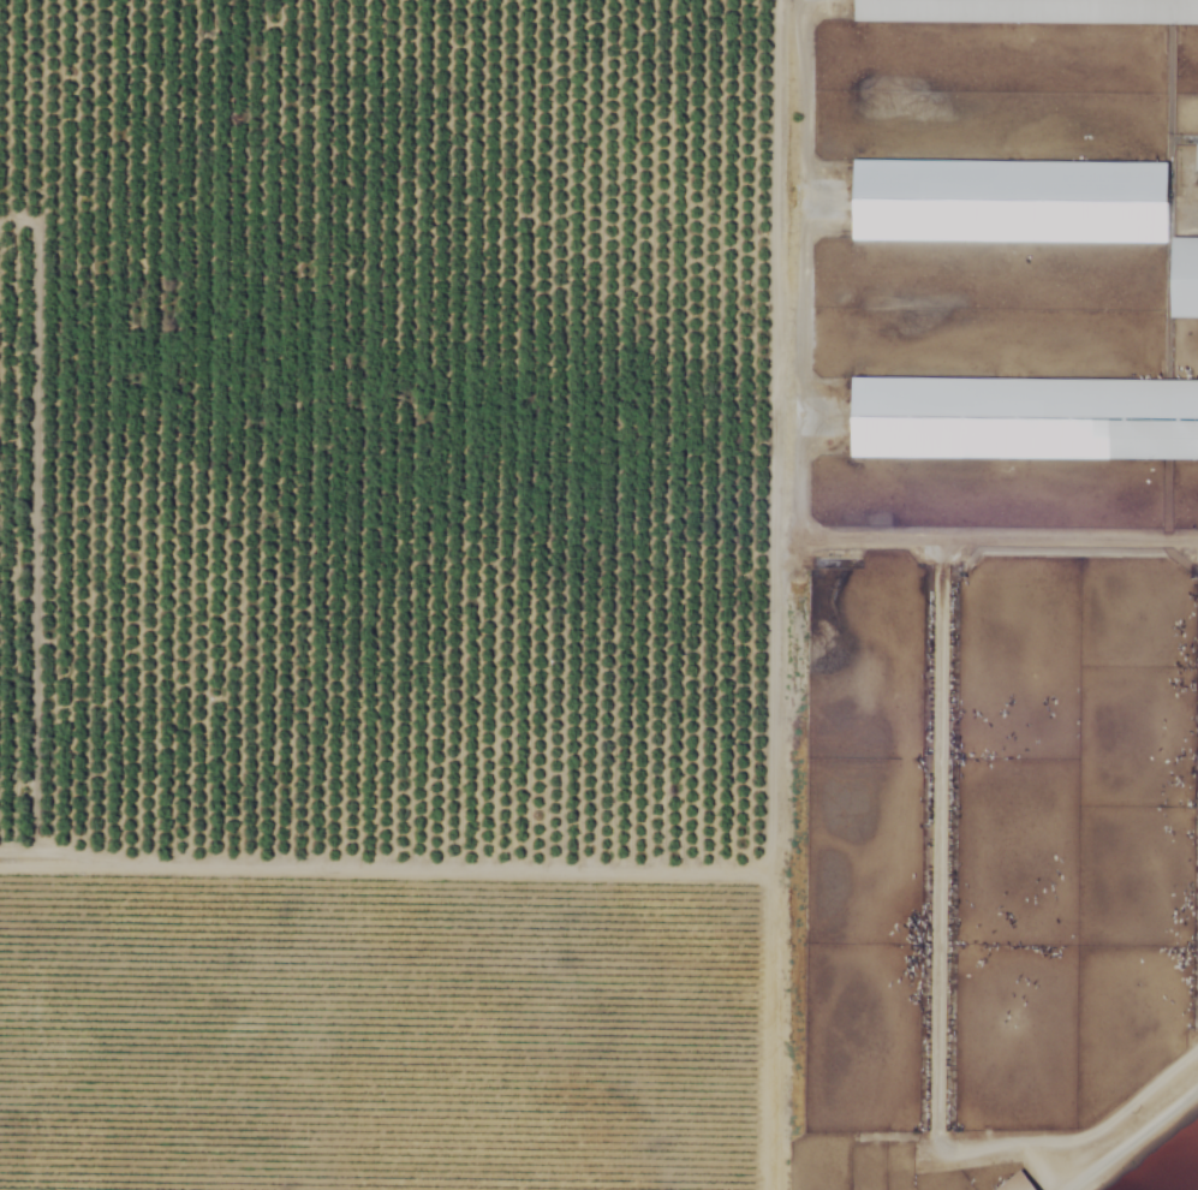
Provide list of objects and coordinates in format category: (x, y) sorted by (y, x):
building: (1031, 11)
building: (1013, 201)
building: (1187, 278)
building: (1026, 418)
crop: (391, 596)
building: (1021, 1183)

